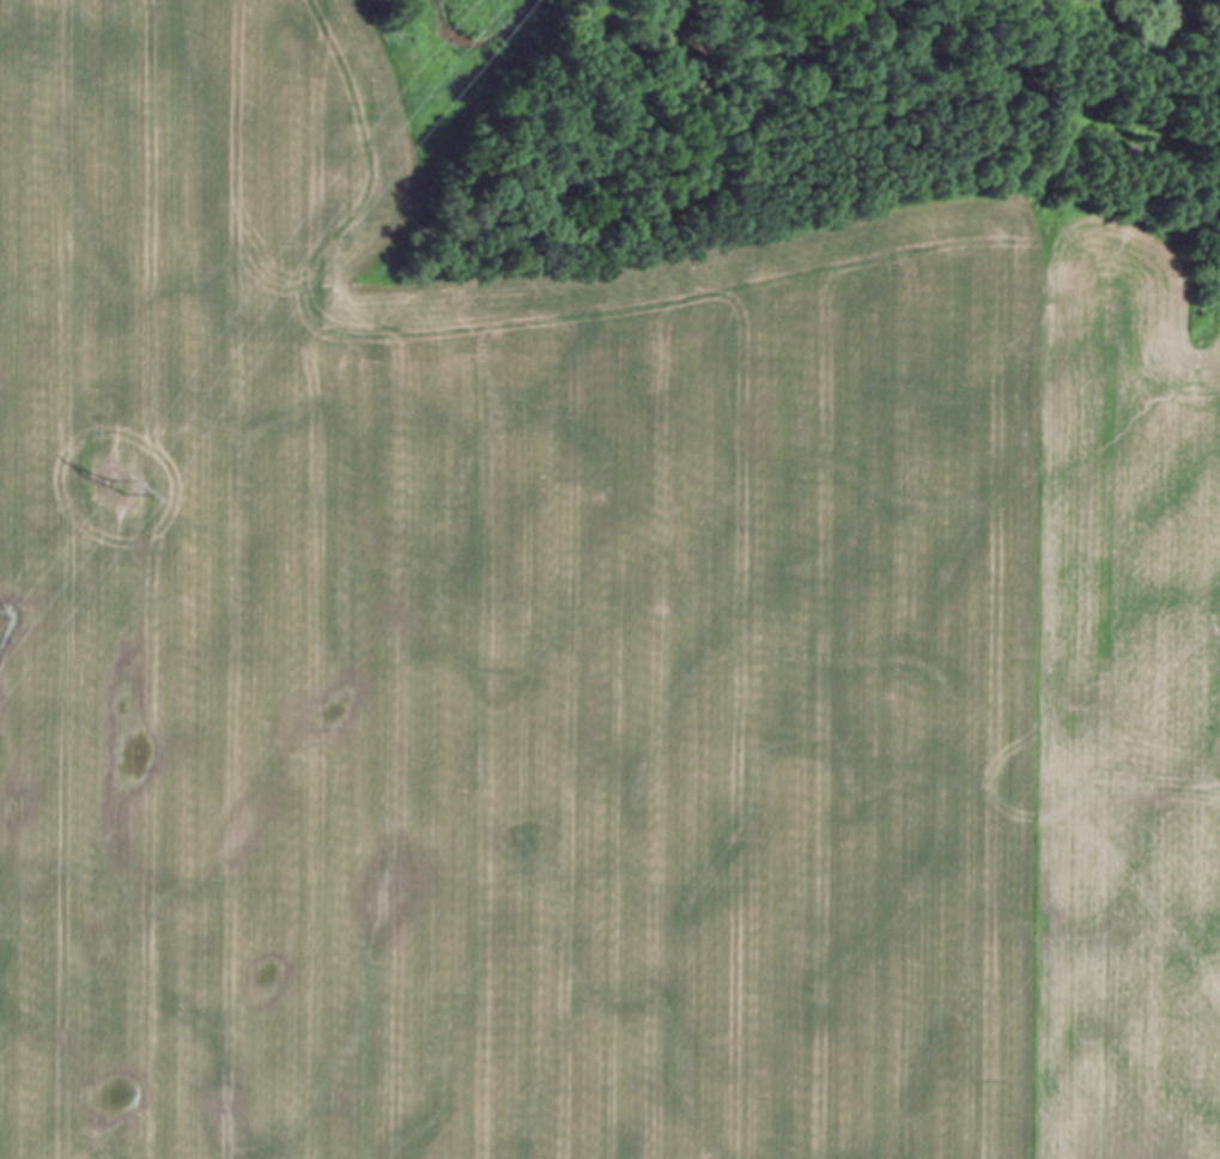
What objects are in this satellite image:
power tower: (127, 486)

